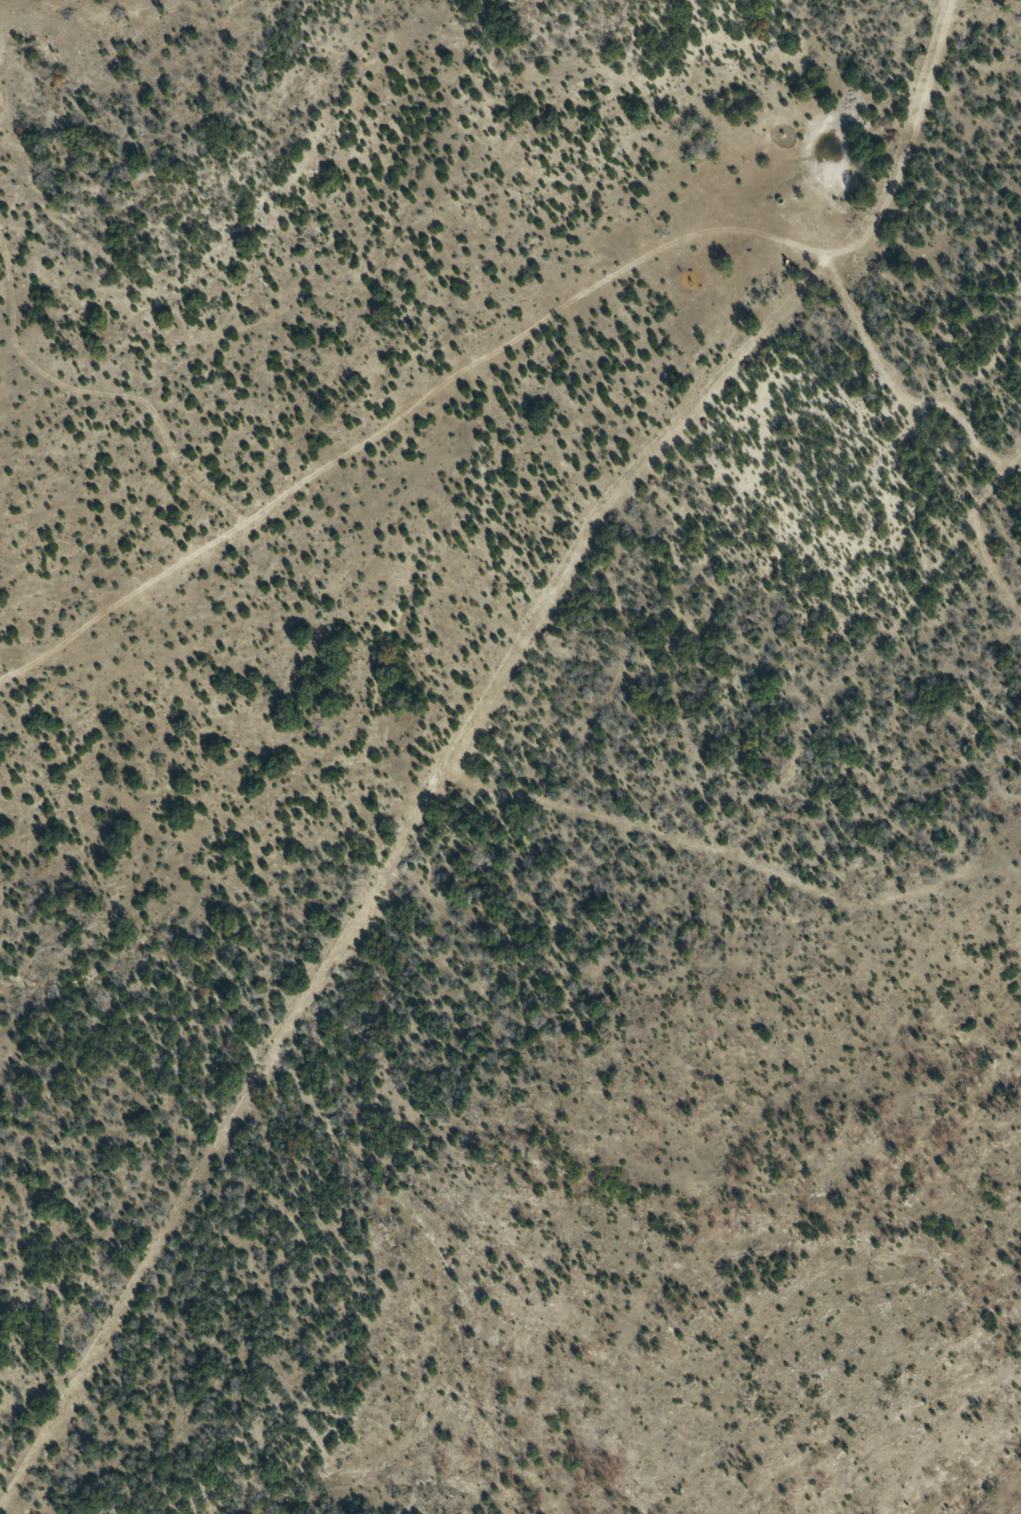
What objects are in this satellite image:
road: (345, 482)
road: (495, 847)

